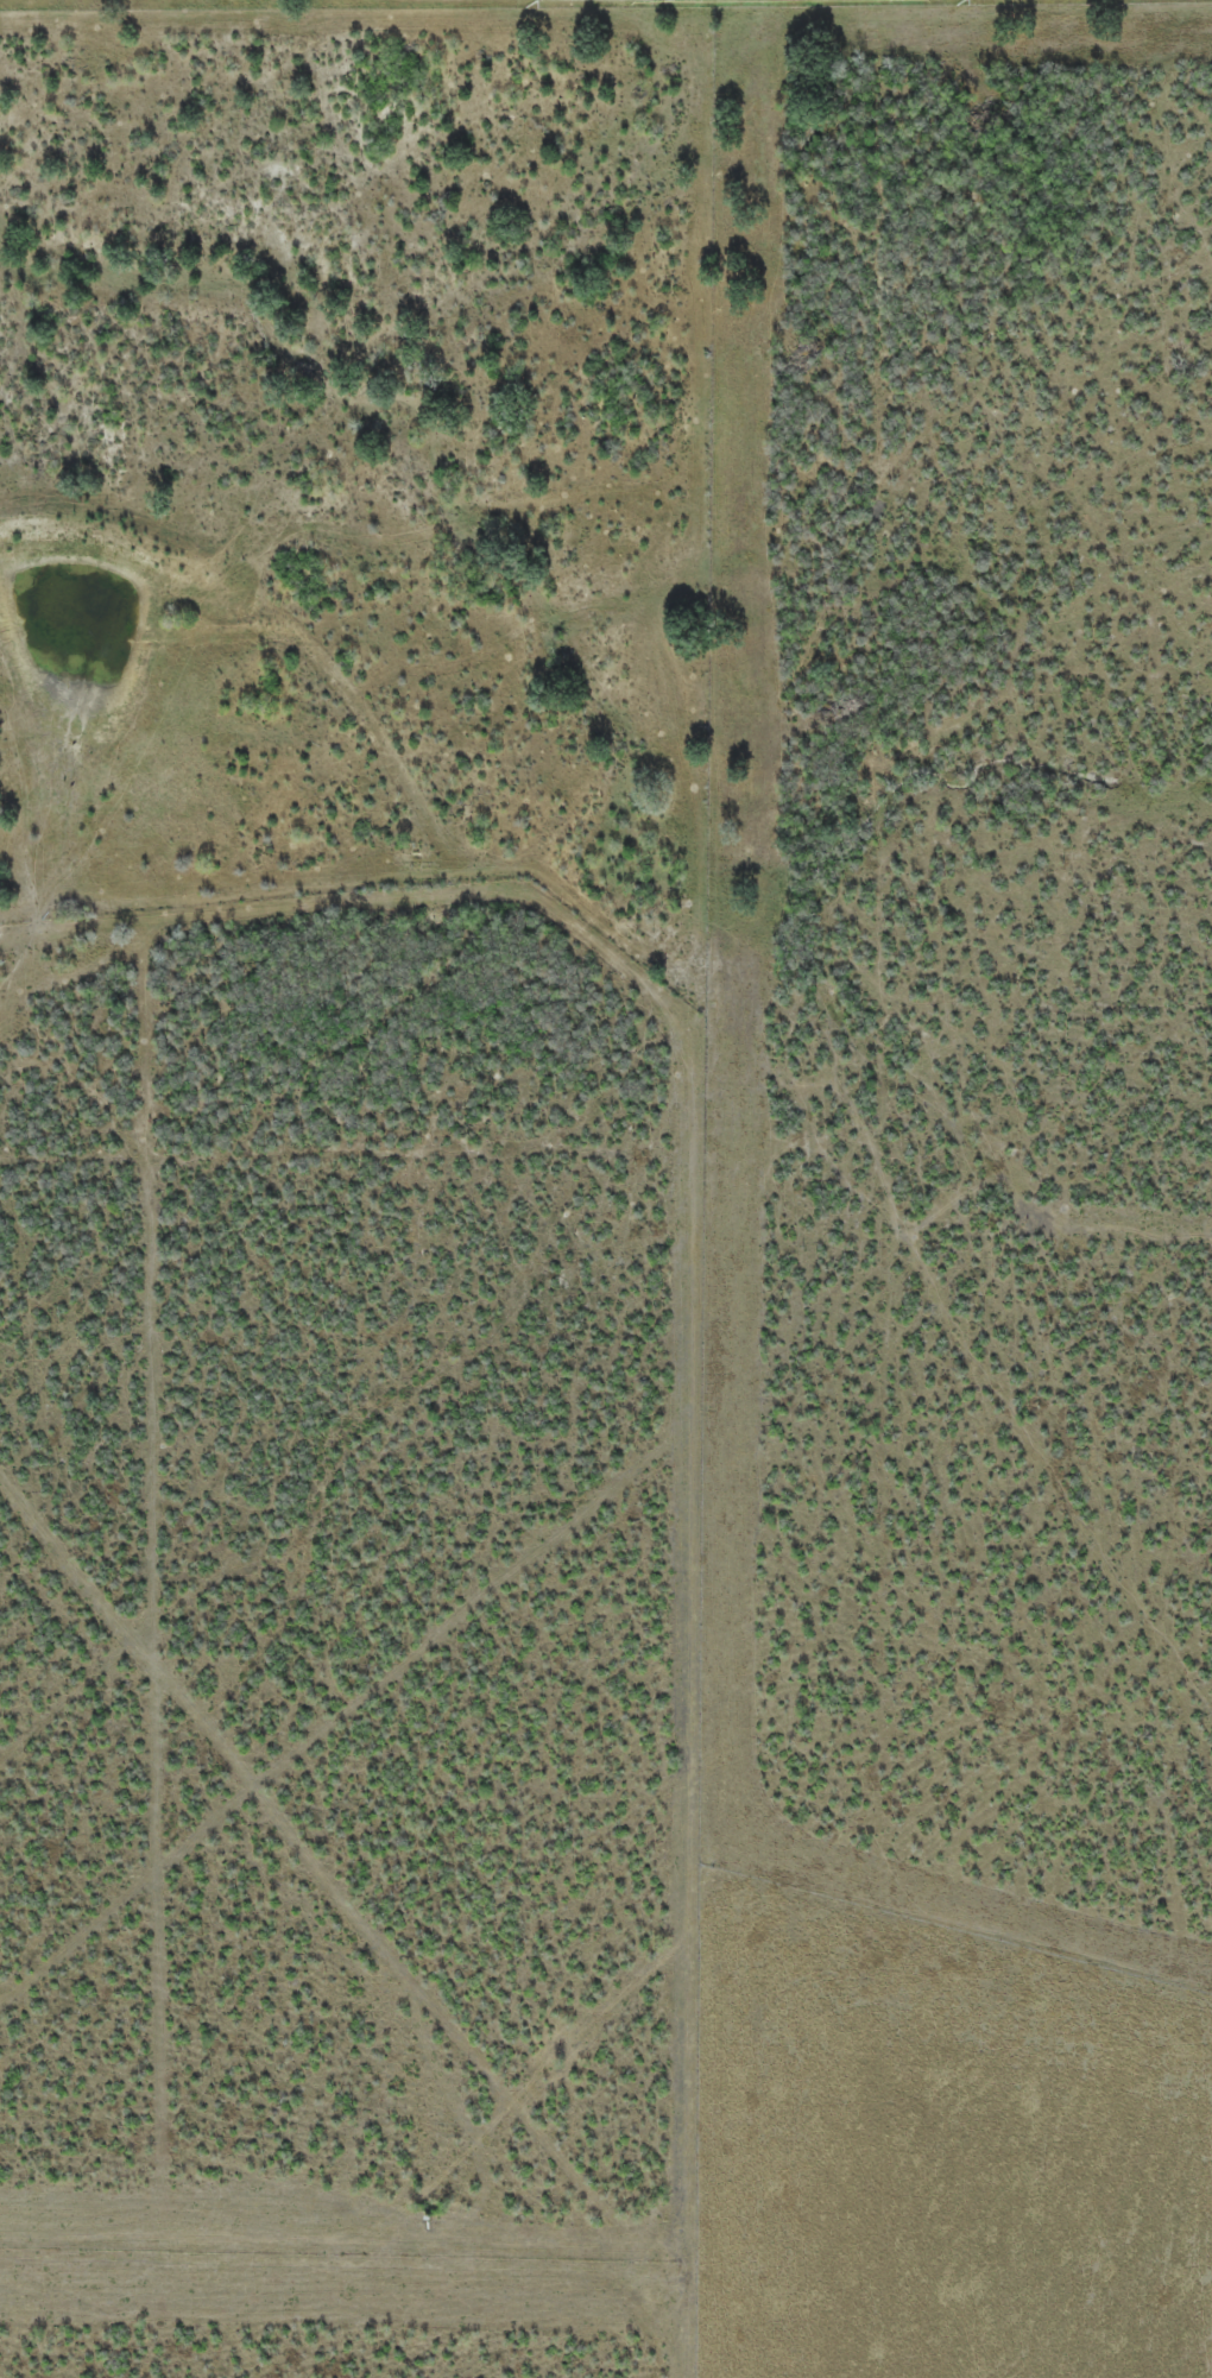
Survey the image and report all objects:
road: (667, 1)

